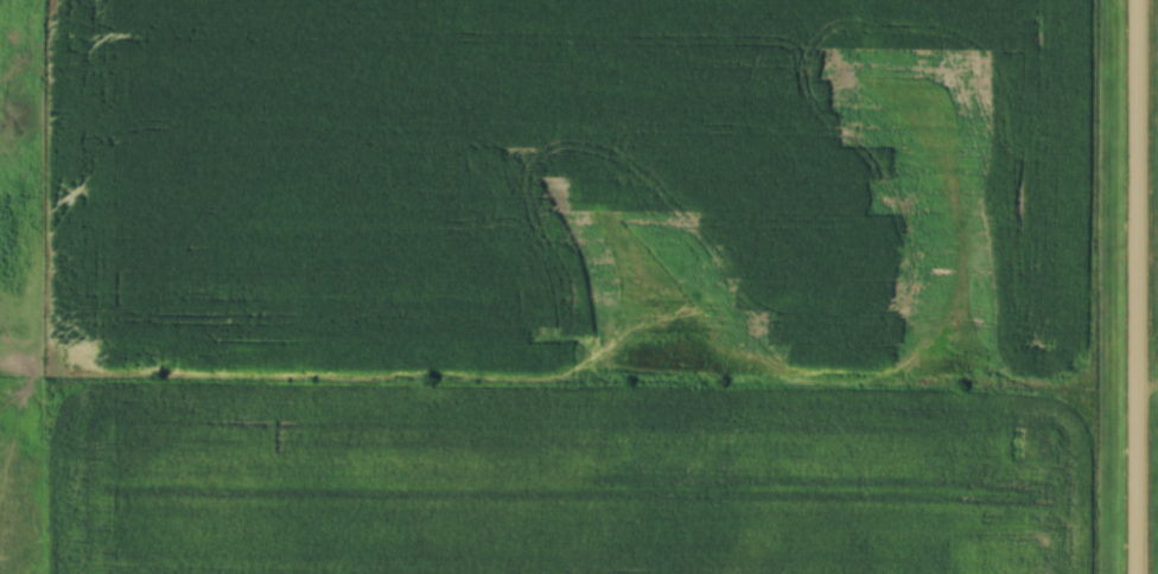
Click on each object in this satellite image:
road: (1137, 287)

